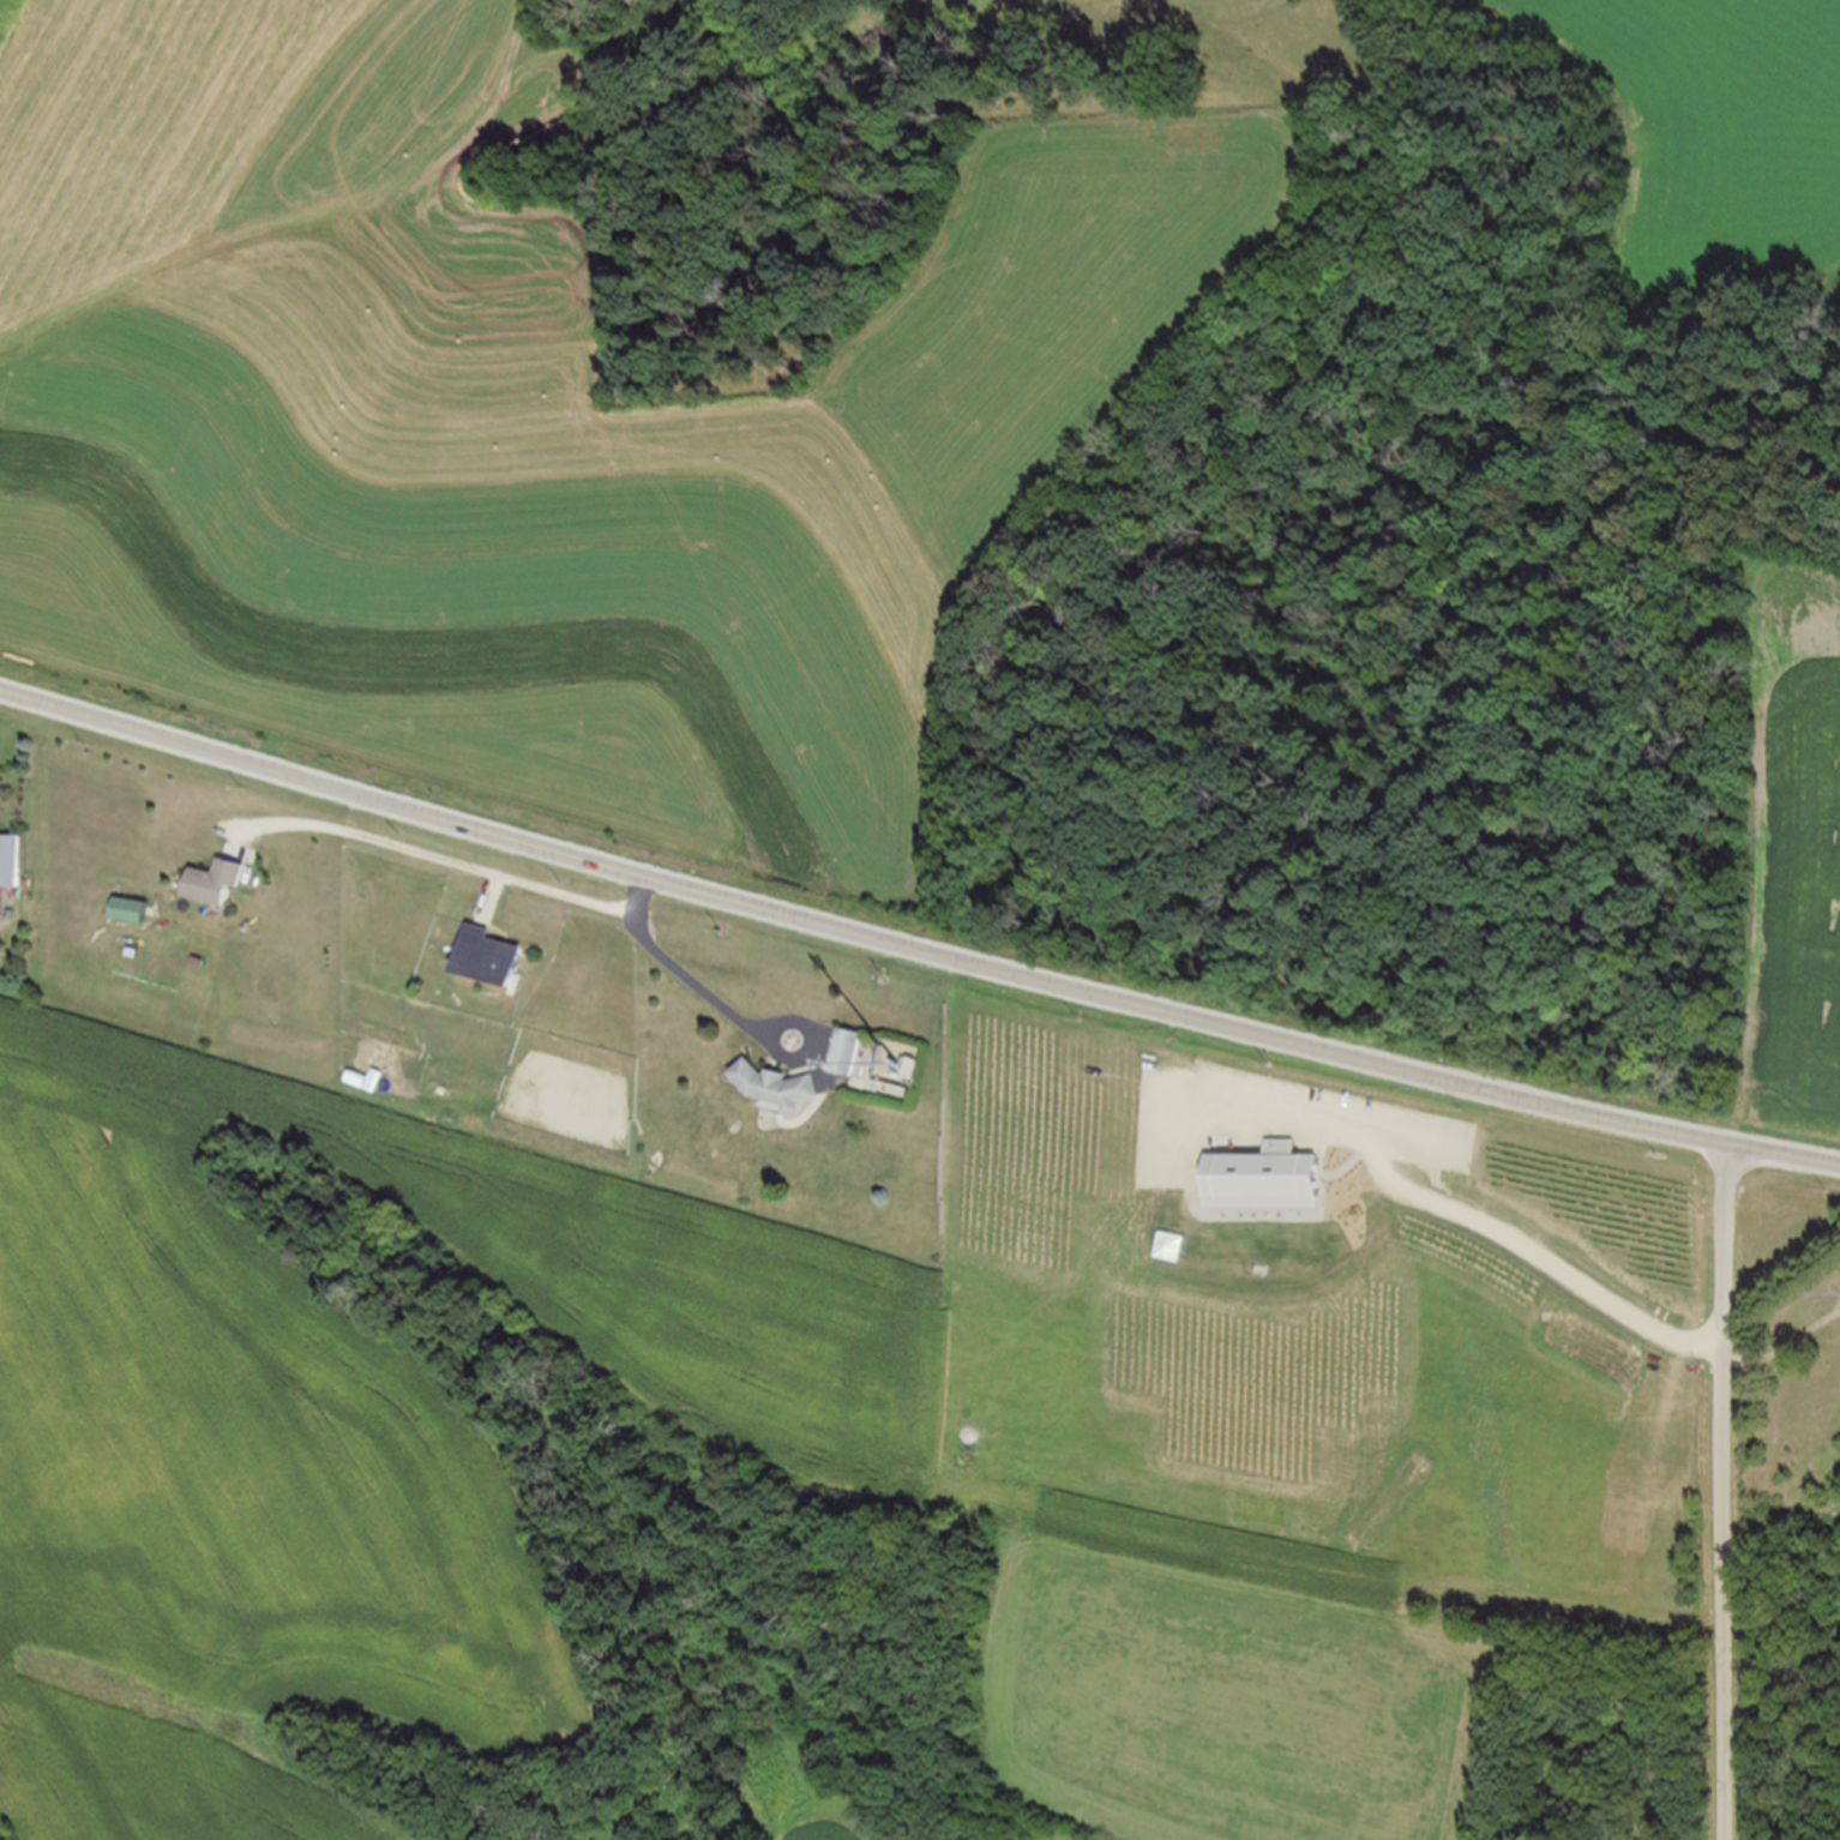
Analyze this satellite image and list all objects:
building: (12, 858)
road: (433, 862)
building: (220, 880)
building: (136, 908)
road: (0, 910)
road: (915, 946)
road: (730, 1009)
building: (848, 1050)
building: (782, 1086)
road: (1786, 1340)
road: (1728, 1491)

